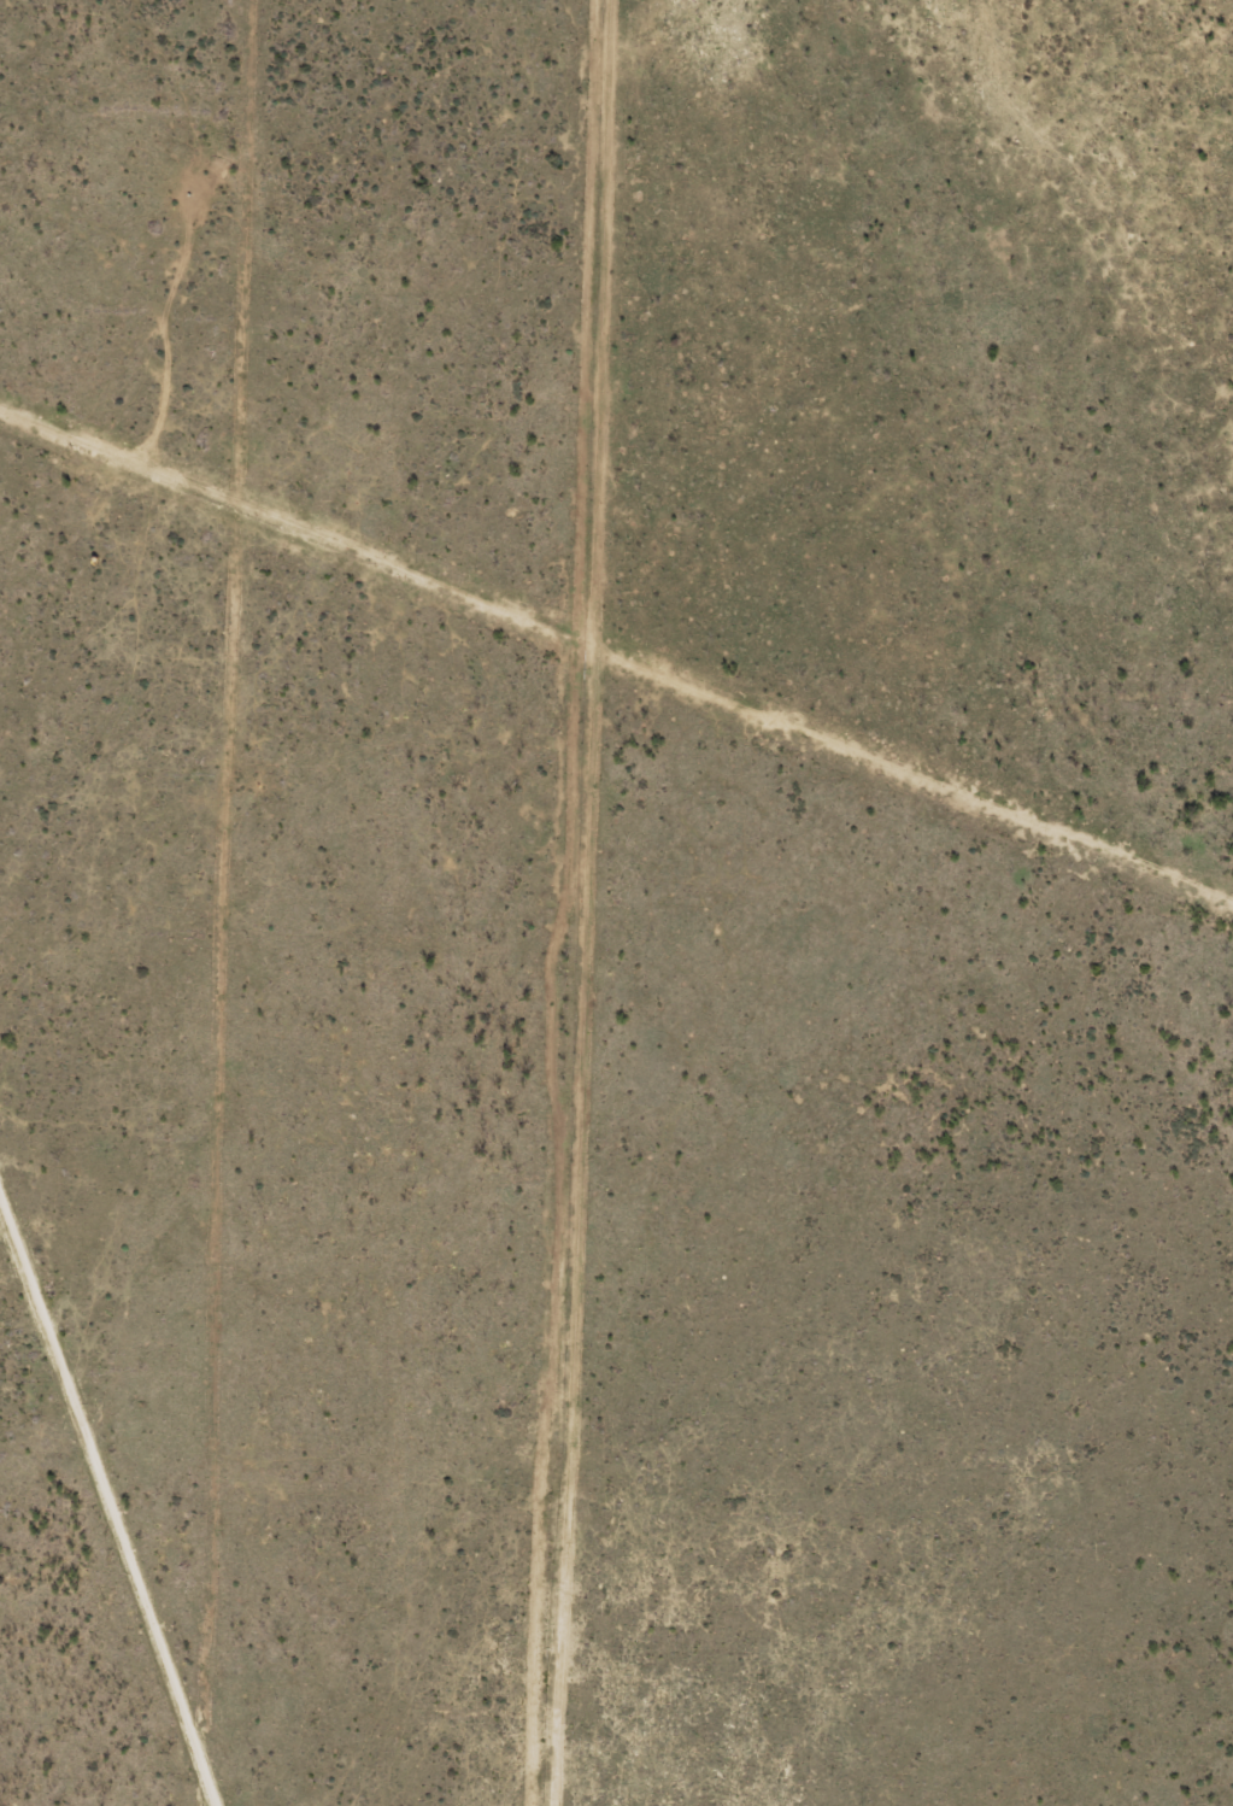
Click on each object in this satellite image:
road: (106, 1493)

